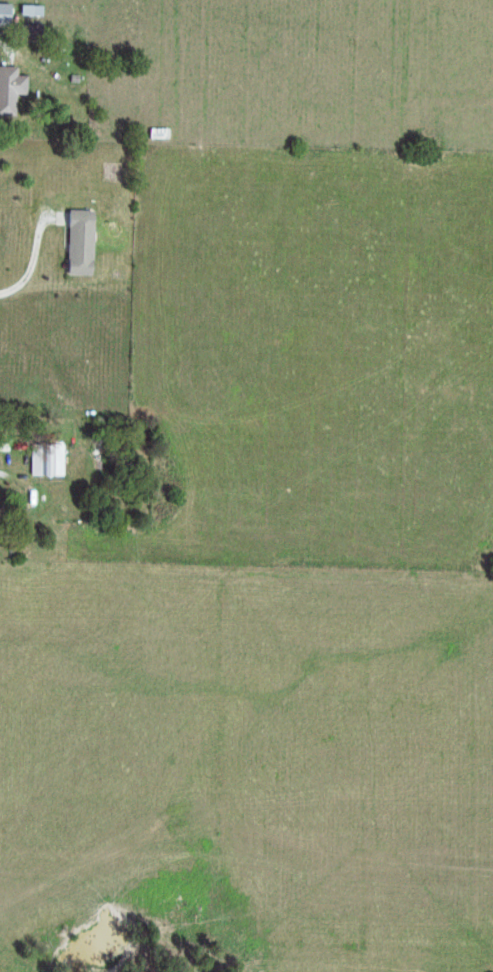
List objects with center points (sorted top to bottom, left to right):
building: (3, 15)
building: (8, 90)
building: (76, 243)
building: (44, 462)

